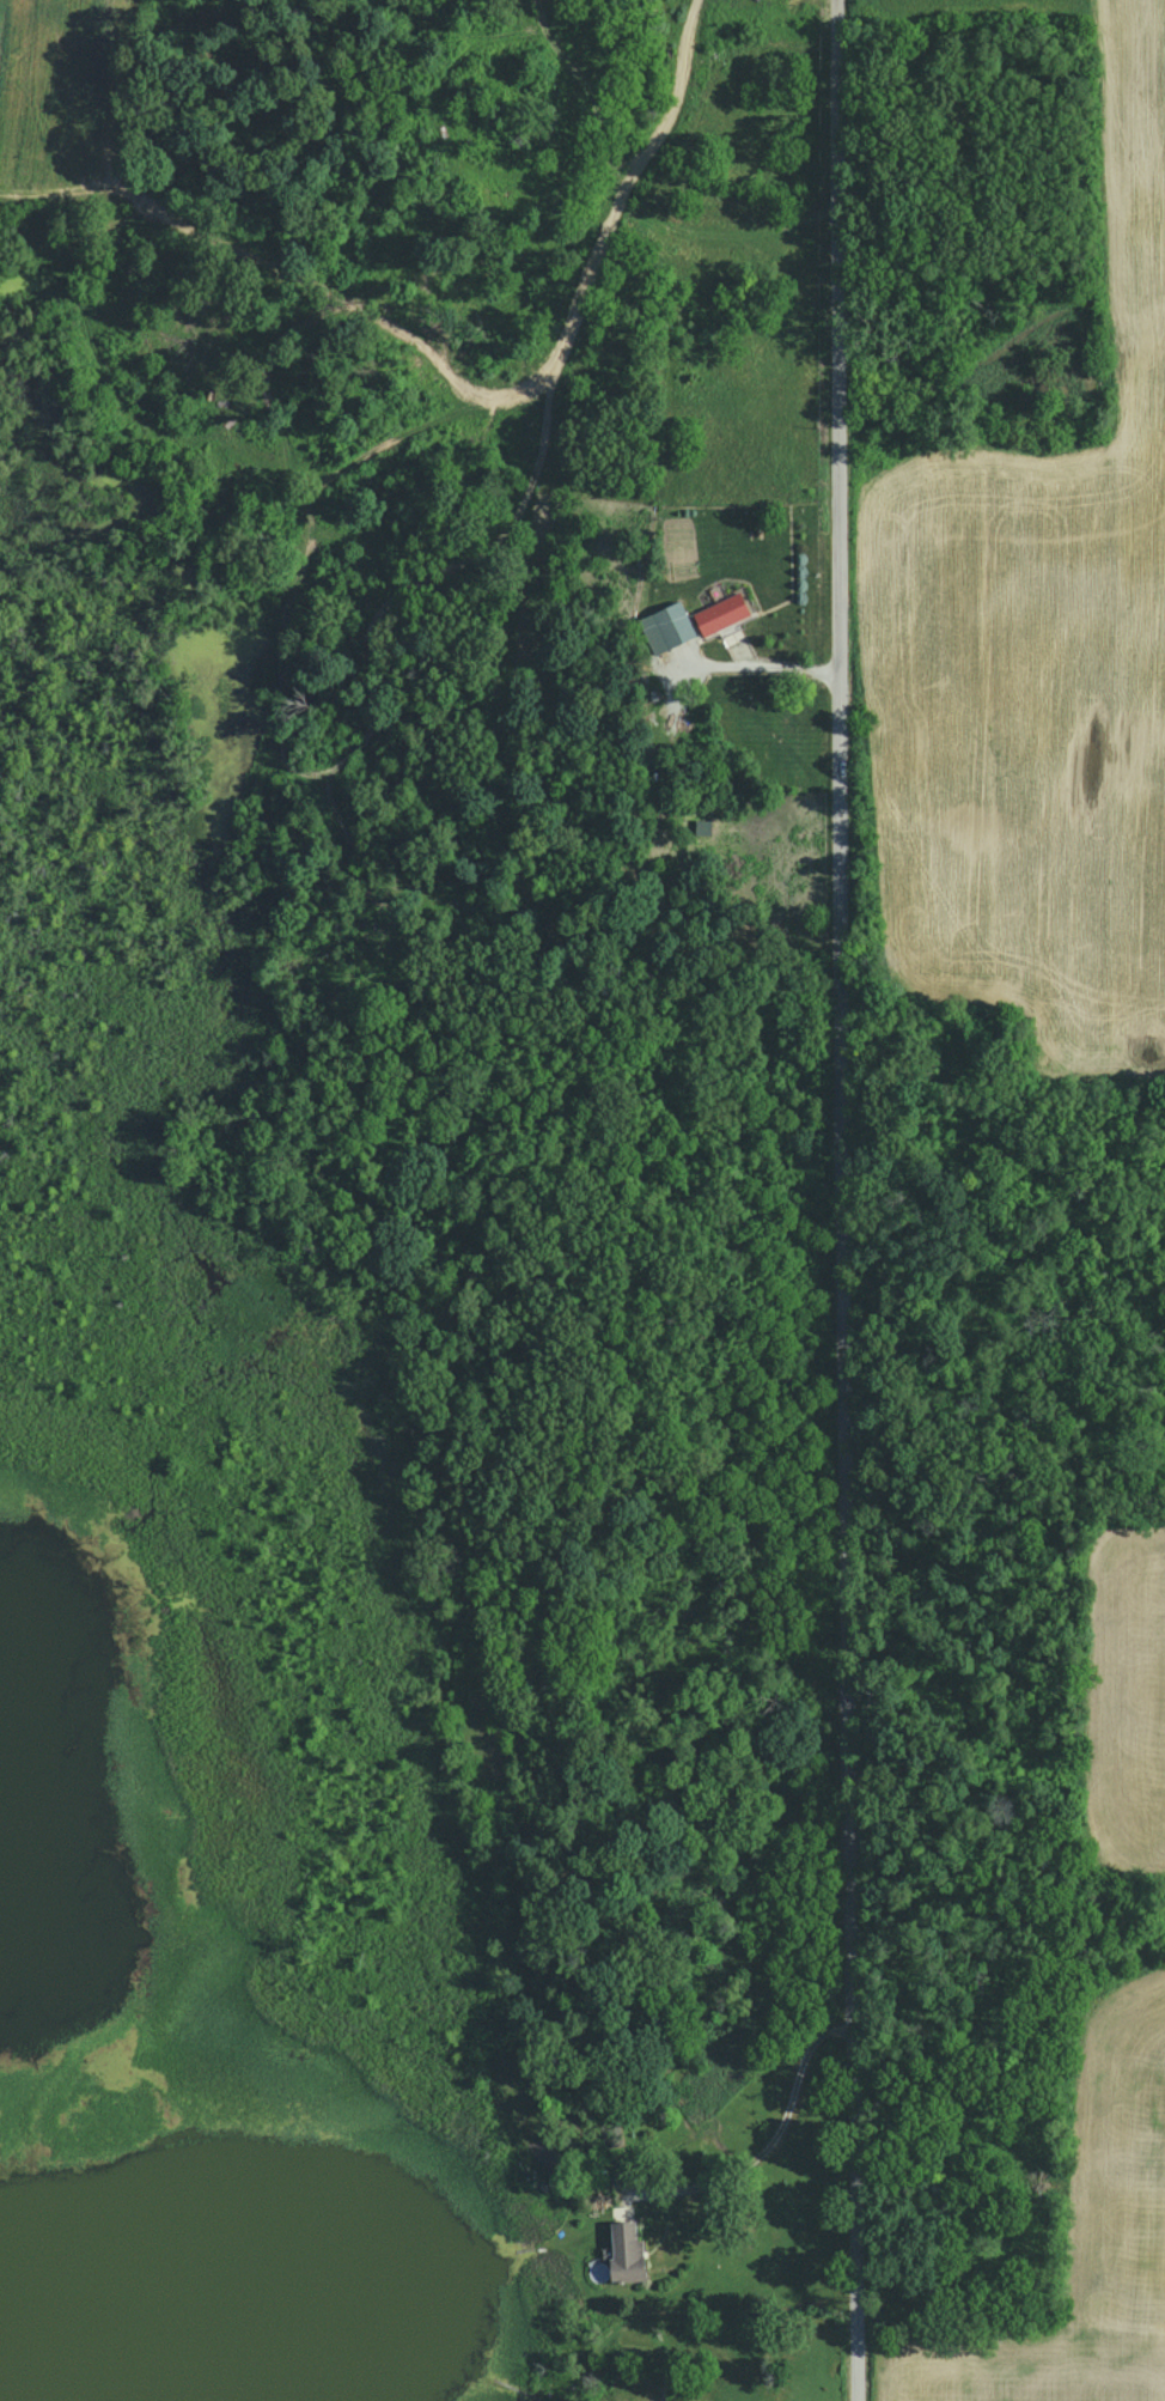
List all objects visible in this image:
building: (715, 614)
building: (670, 624)
road: (755, 668)
road: (834, 1200)
road: (764, 2142)
building: (621, 2251)

